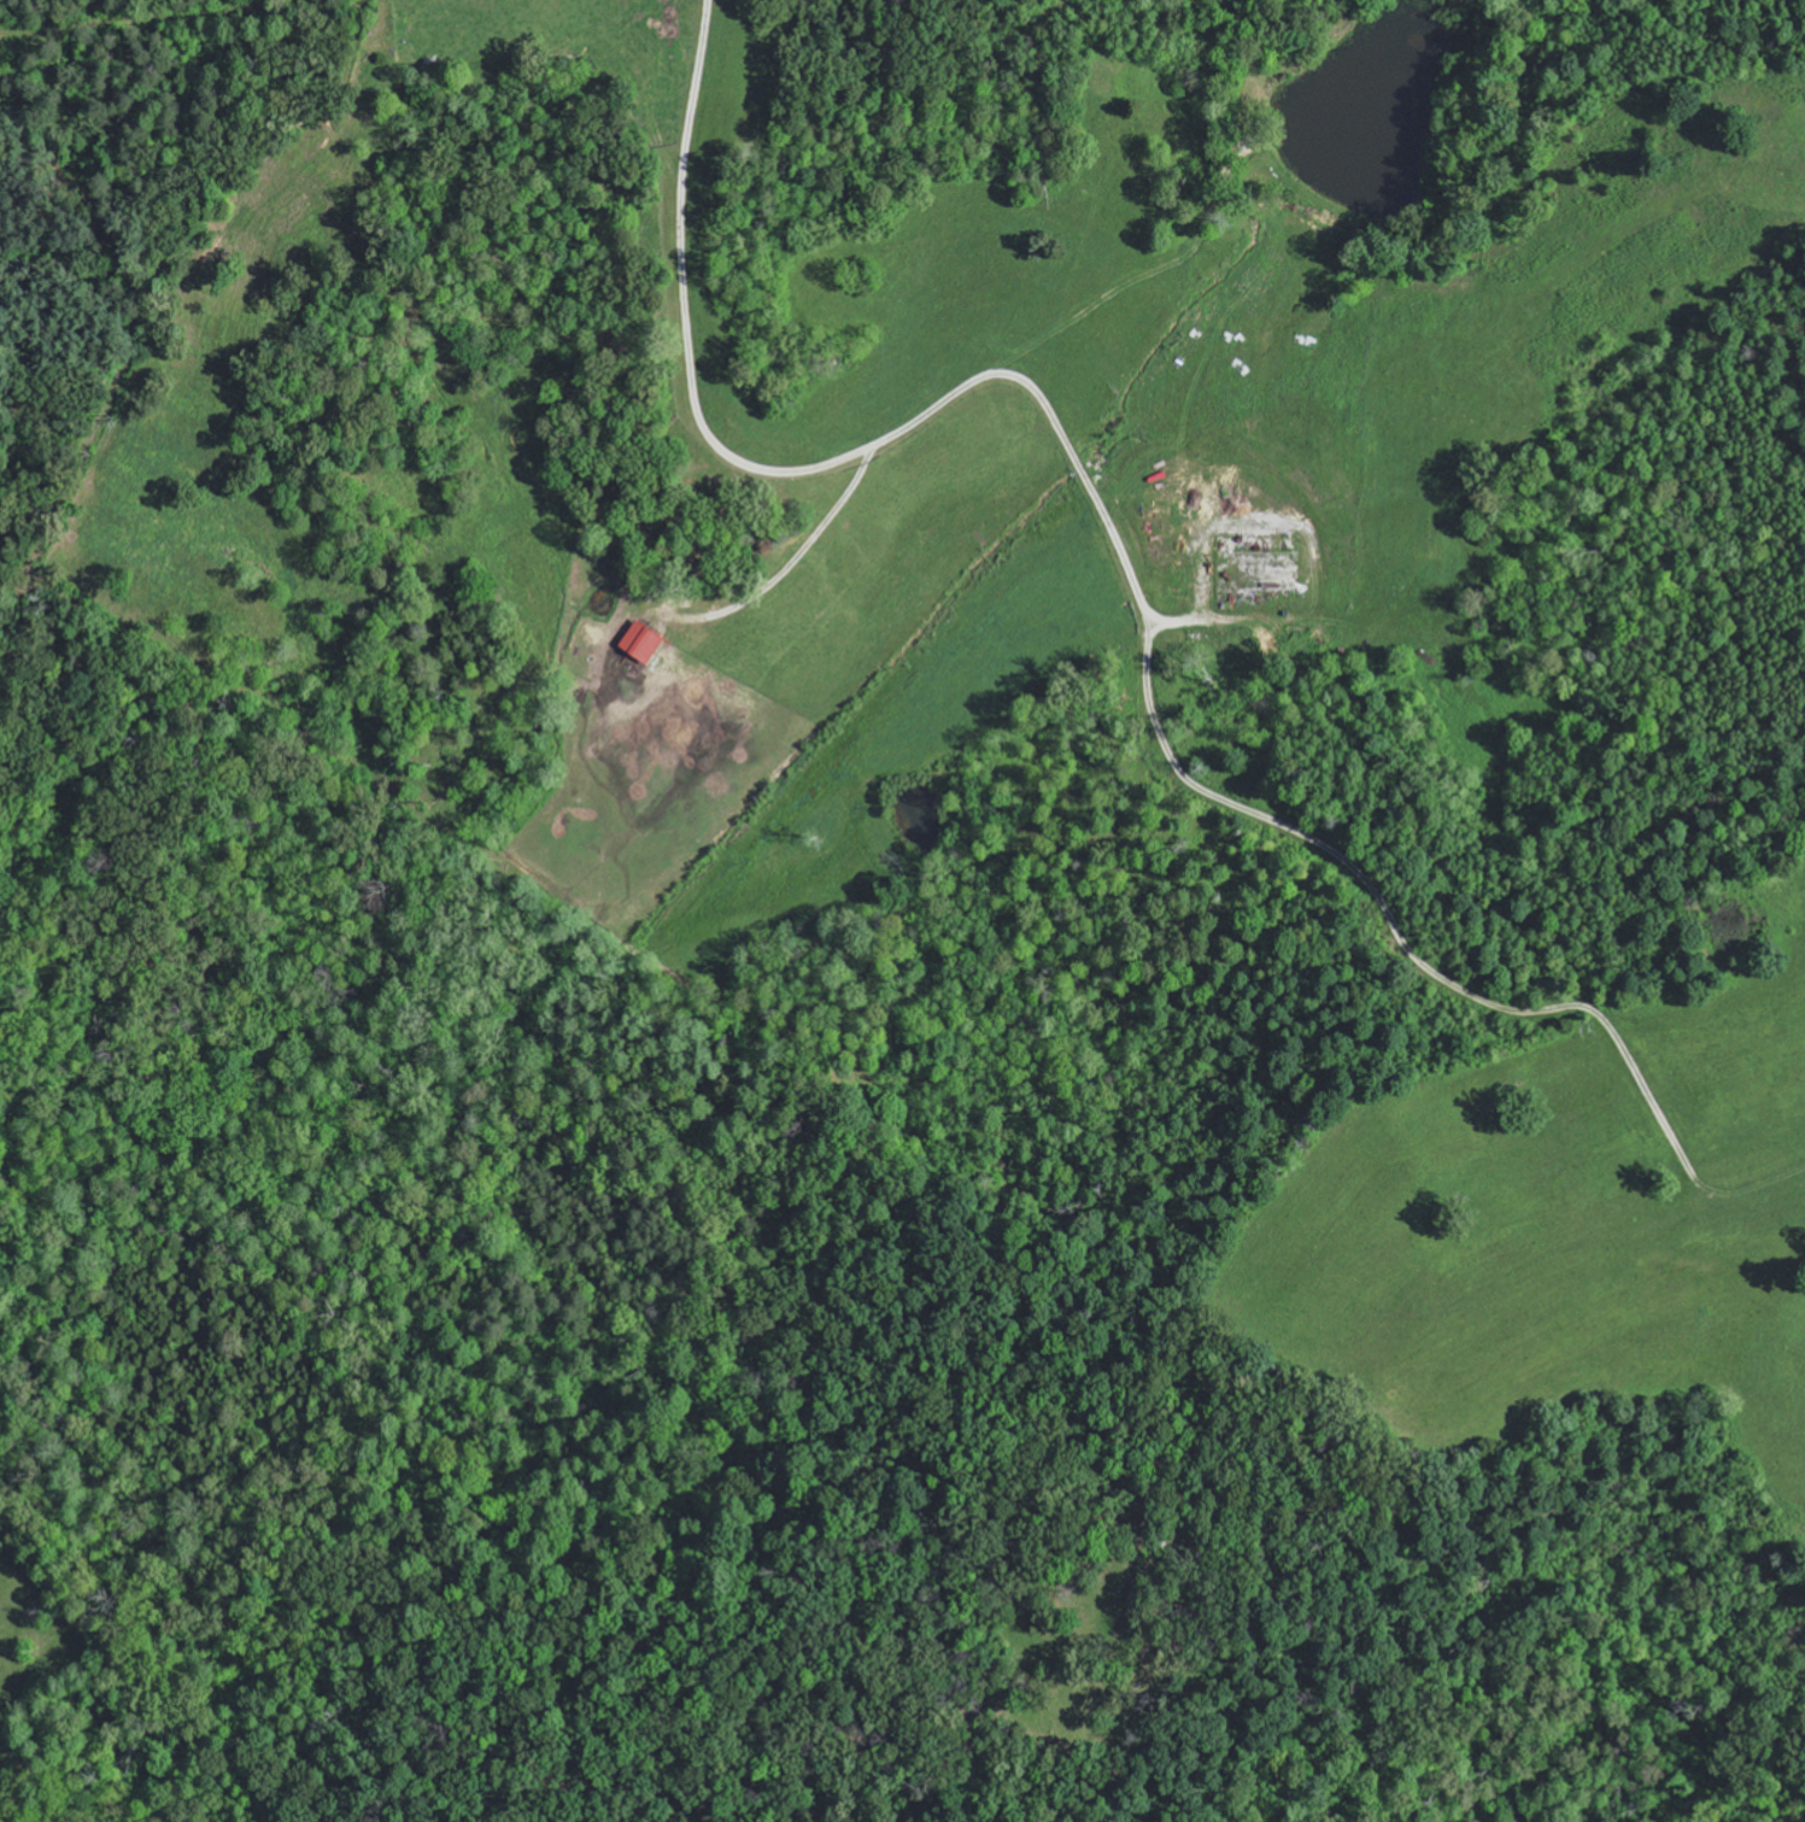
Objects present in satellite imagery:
road: (69, 157)
building: (637, 644)

